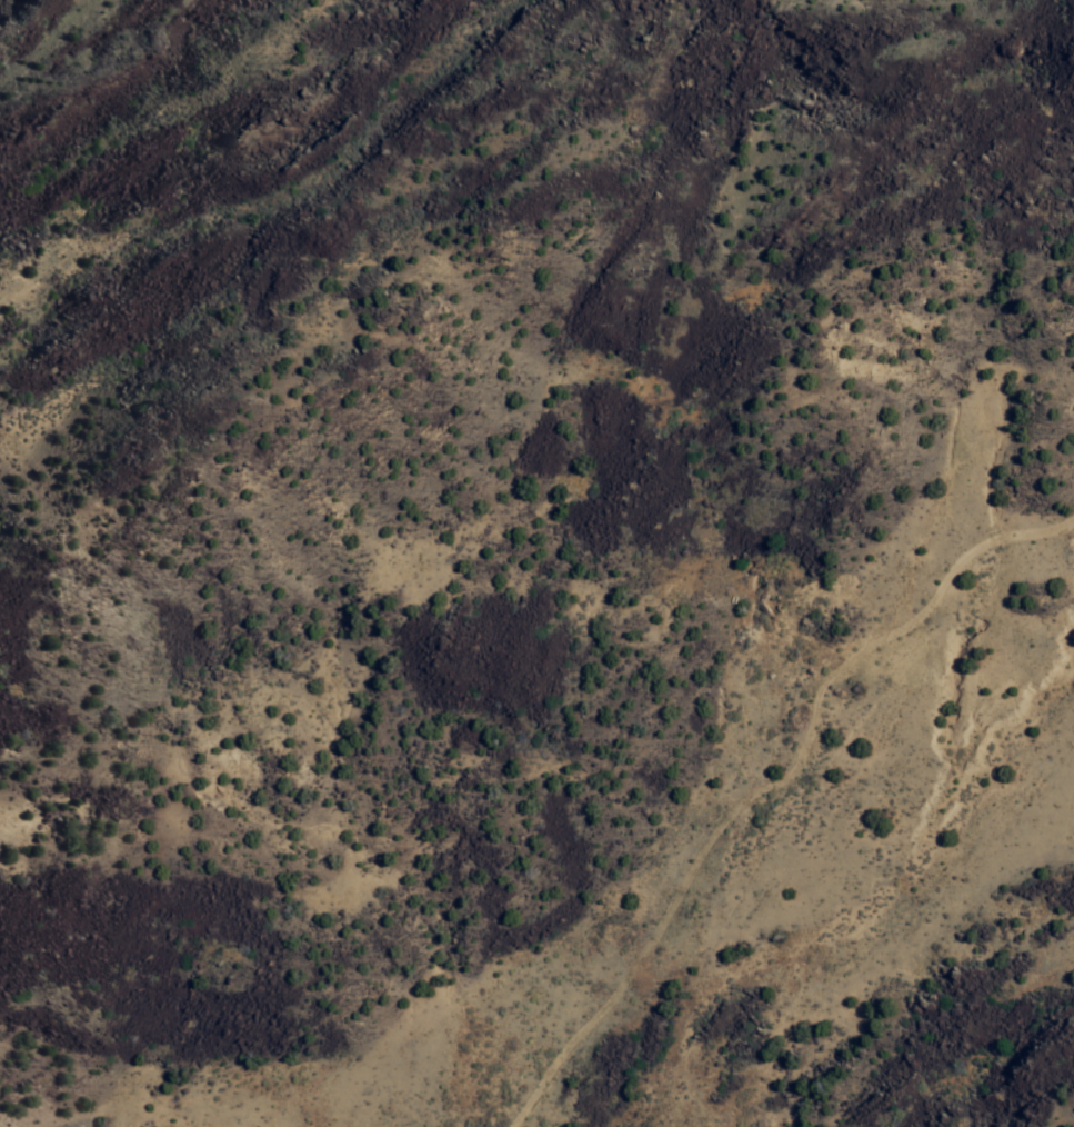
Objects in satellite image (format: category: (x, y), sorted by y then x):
road: (777, 268)
road: (553, 525)
road: (729, 832)

